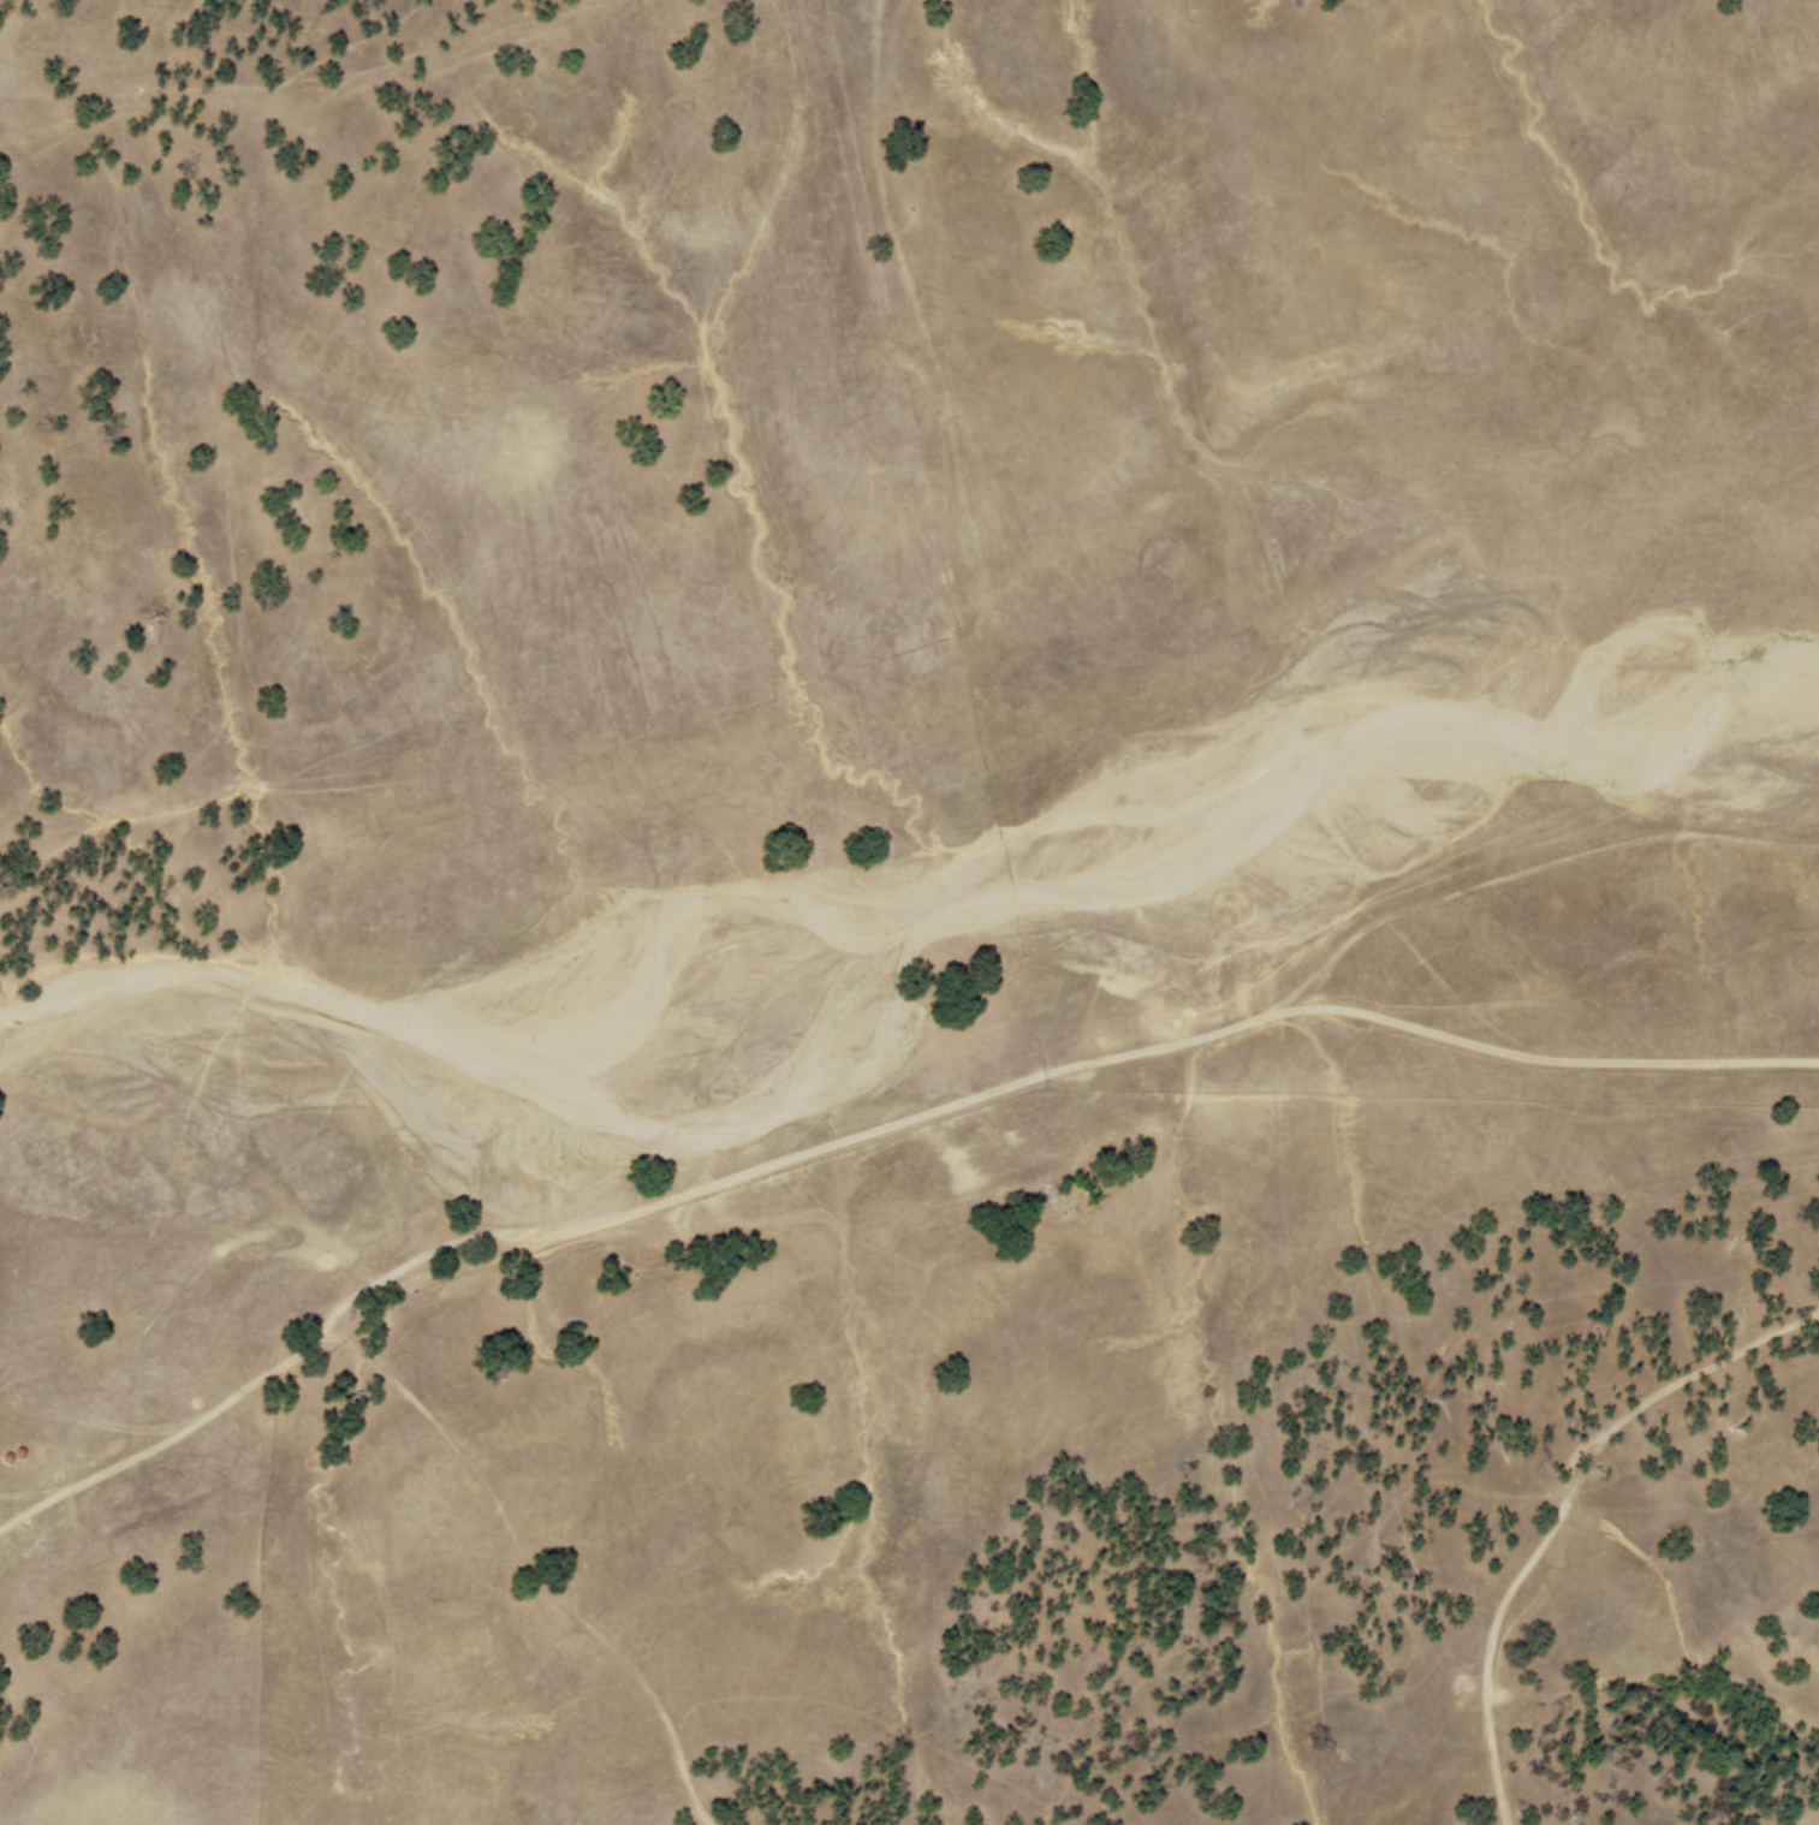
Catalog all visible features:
river: (957, 904)
road: (868, 1131)
road: (1559, 1510)
road: (554, 1599)

